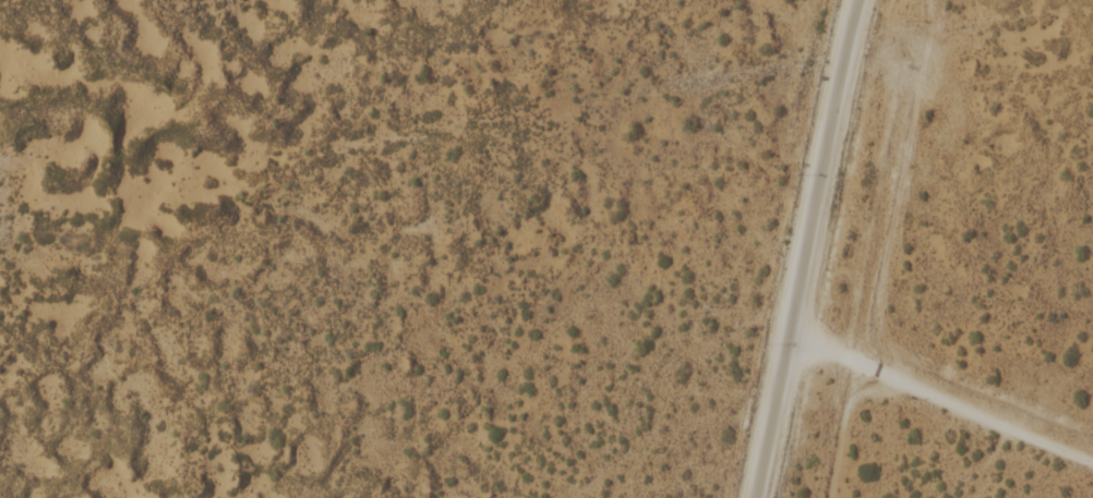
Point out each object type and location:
road: (804, 248)
road: (940, 397)

